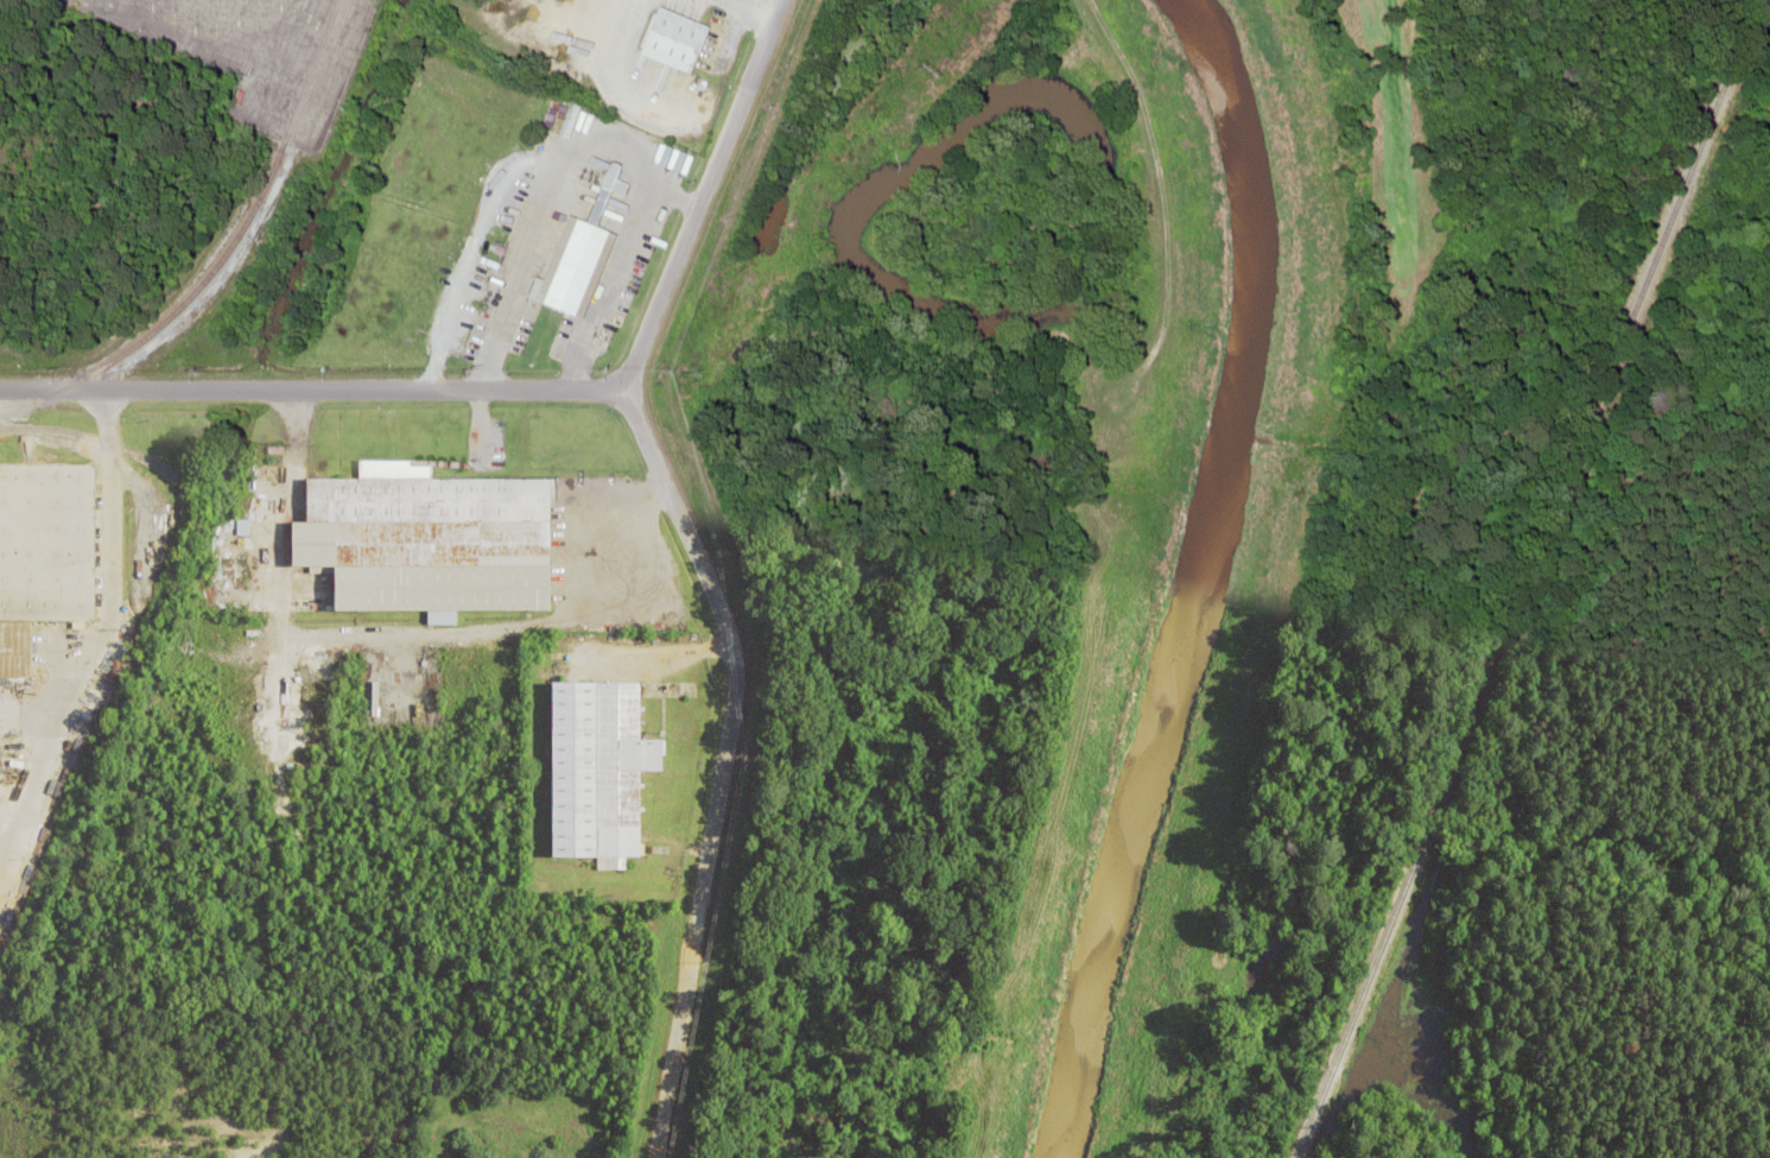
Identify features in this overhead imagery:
building: (665, 38)
railway: (227, 253)
building: (567, 268)
road: (313, 387)
railway: (113, 442)
building: (423, 538)
building: (43, 550)
road: (700, 563)
railway: (1535, 581)
building: (592, 771)

